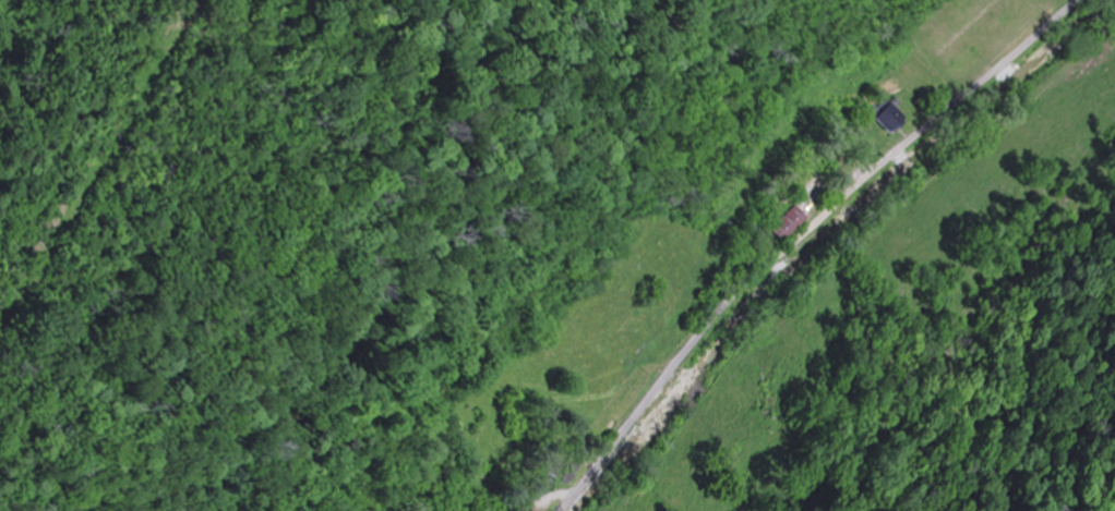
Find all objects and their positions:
road: (799, 236)

